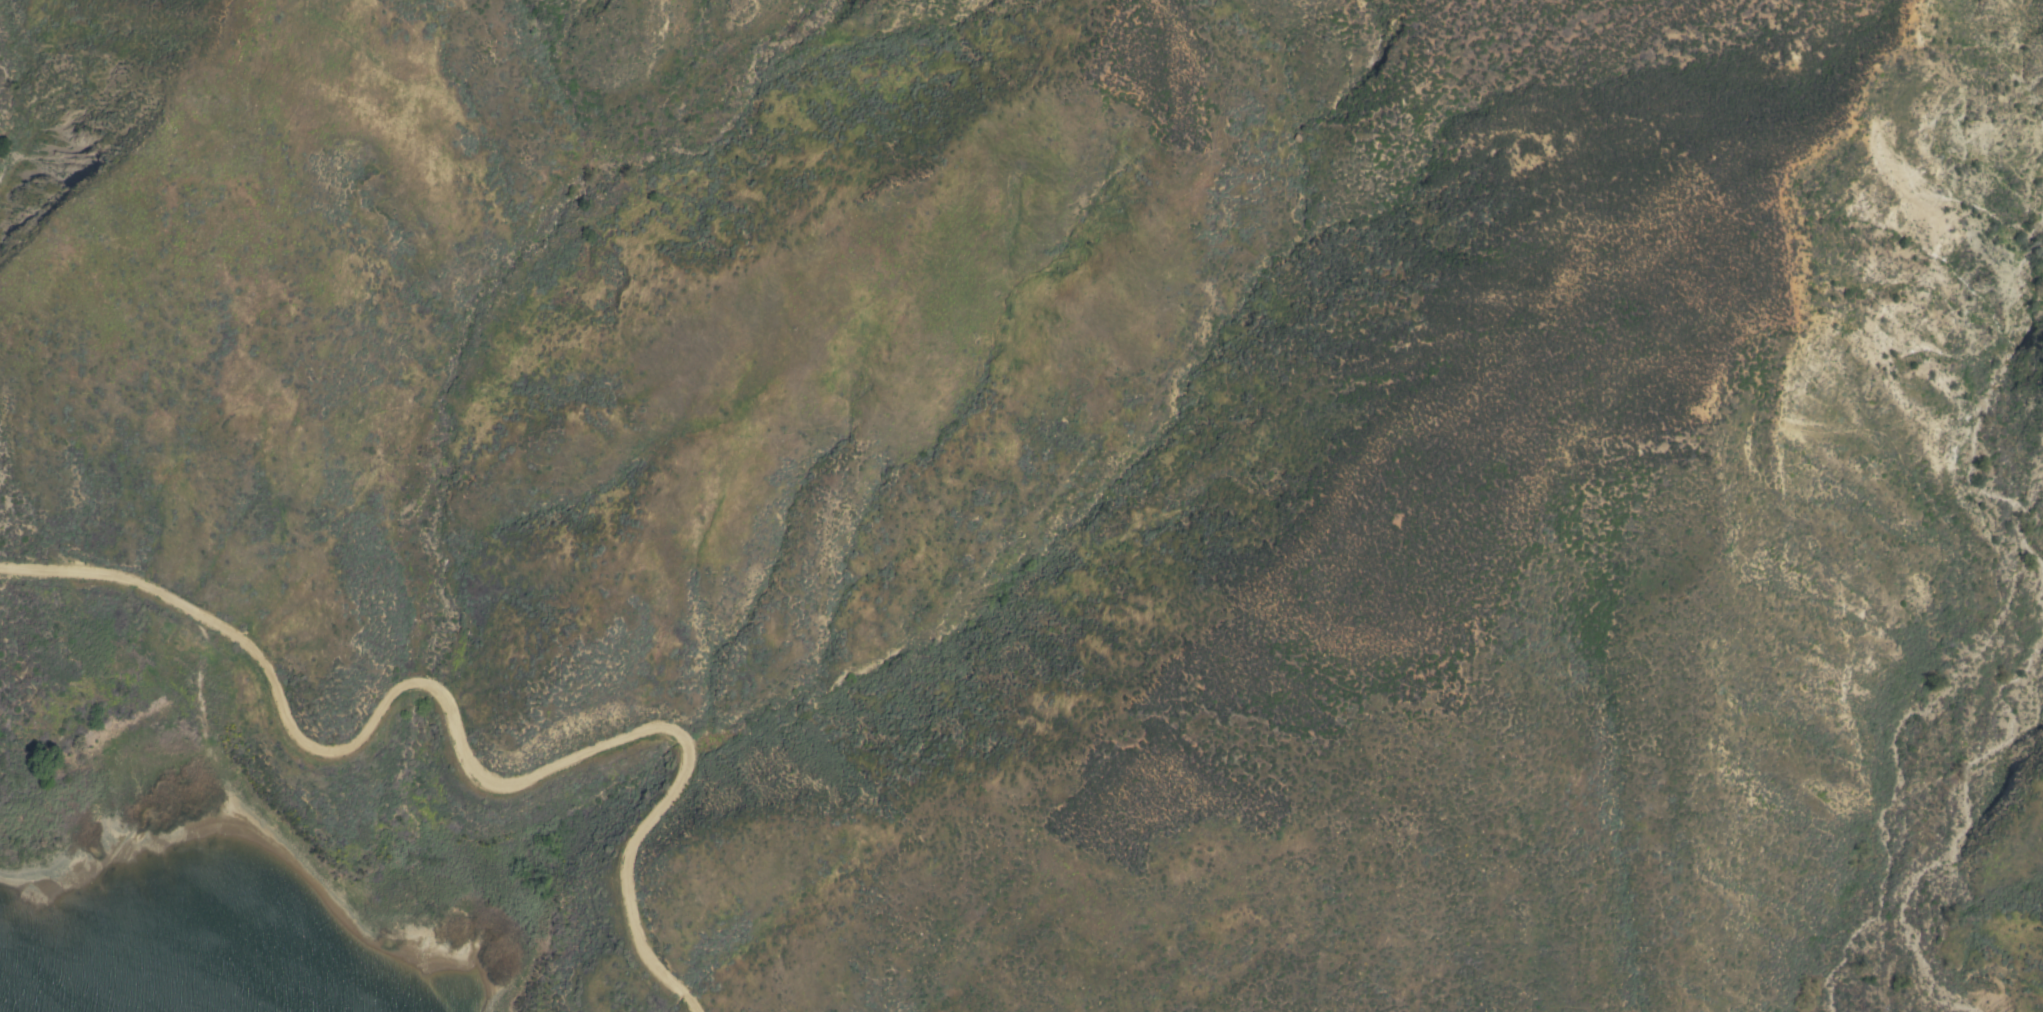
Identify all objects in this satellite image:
road: (450, 722)

